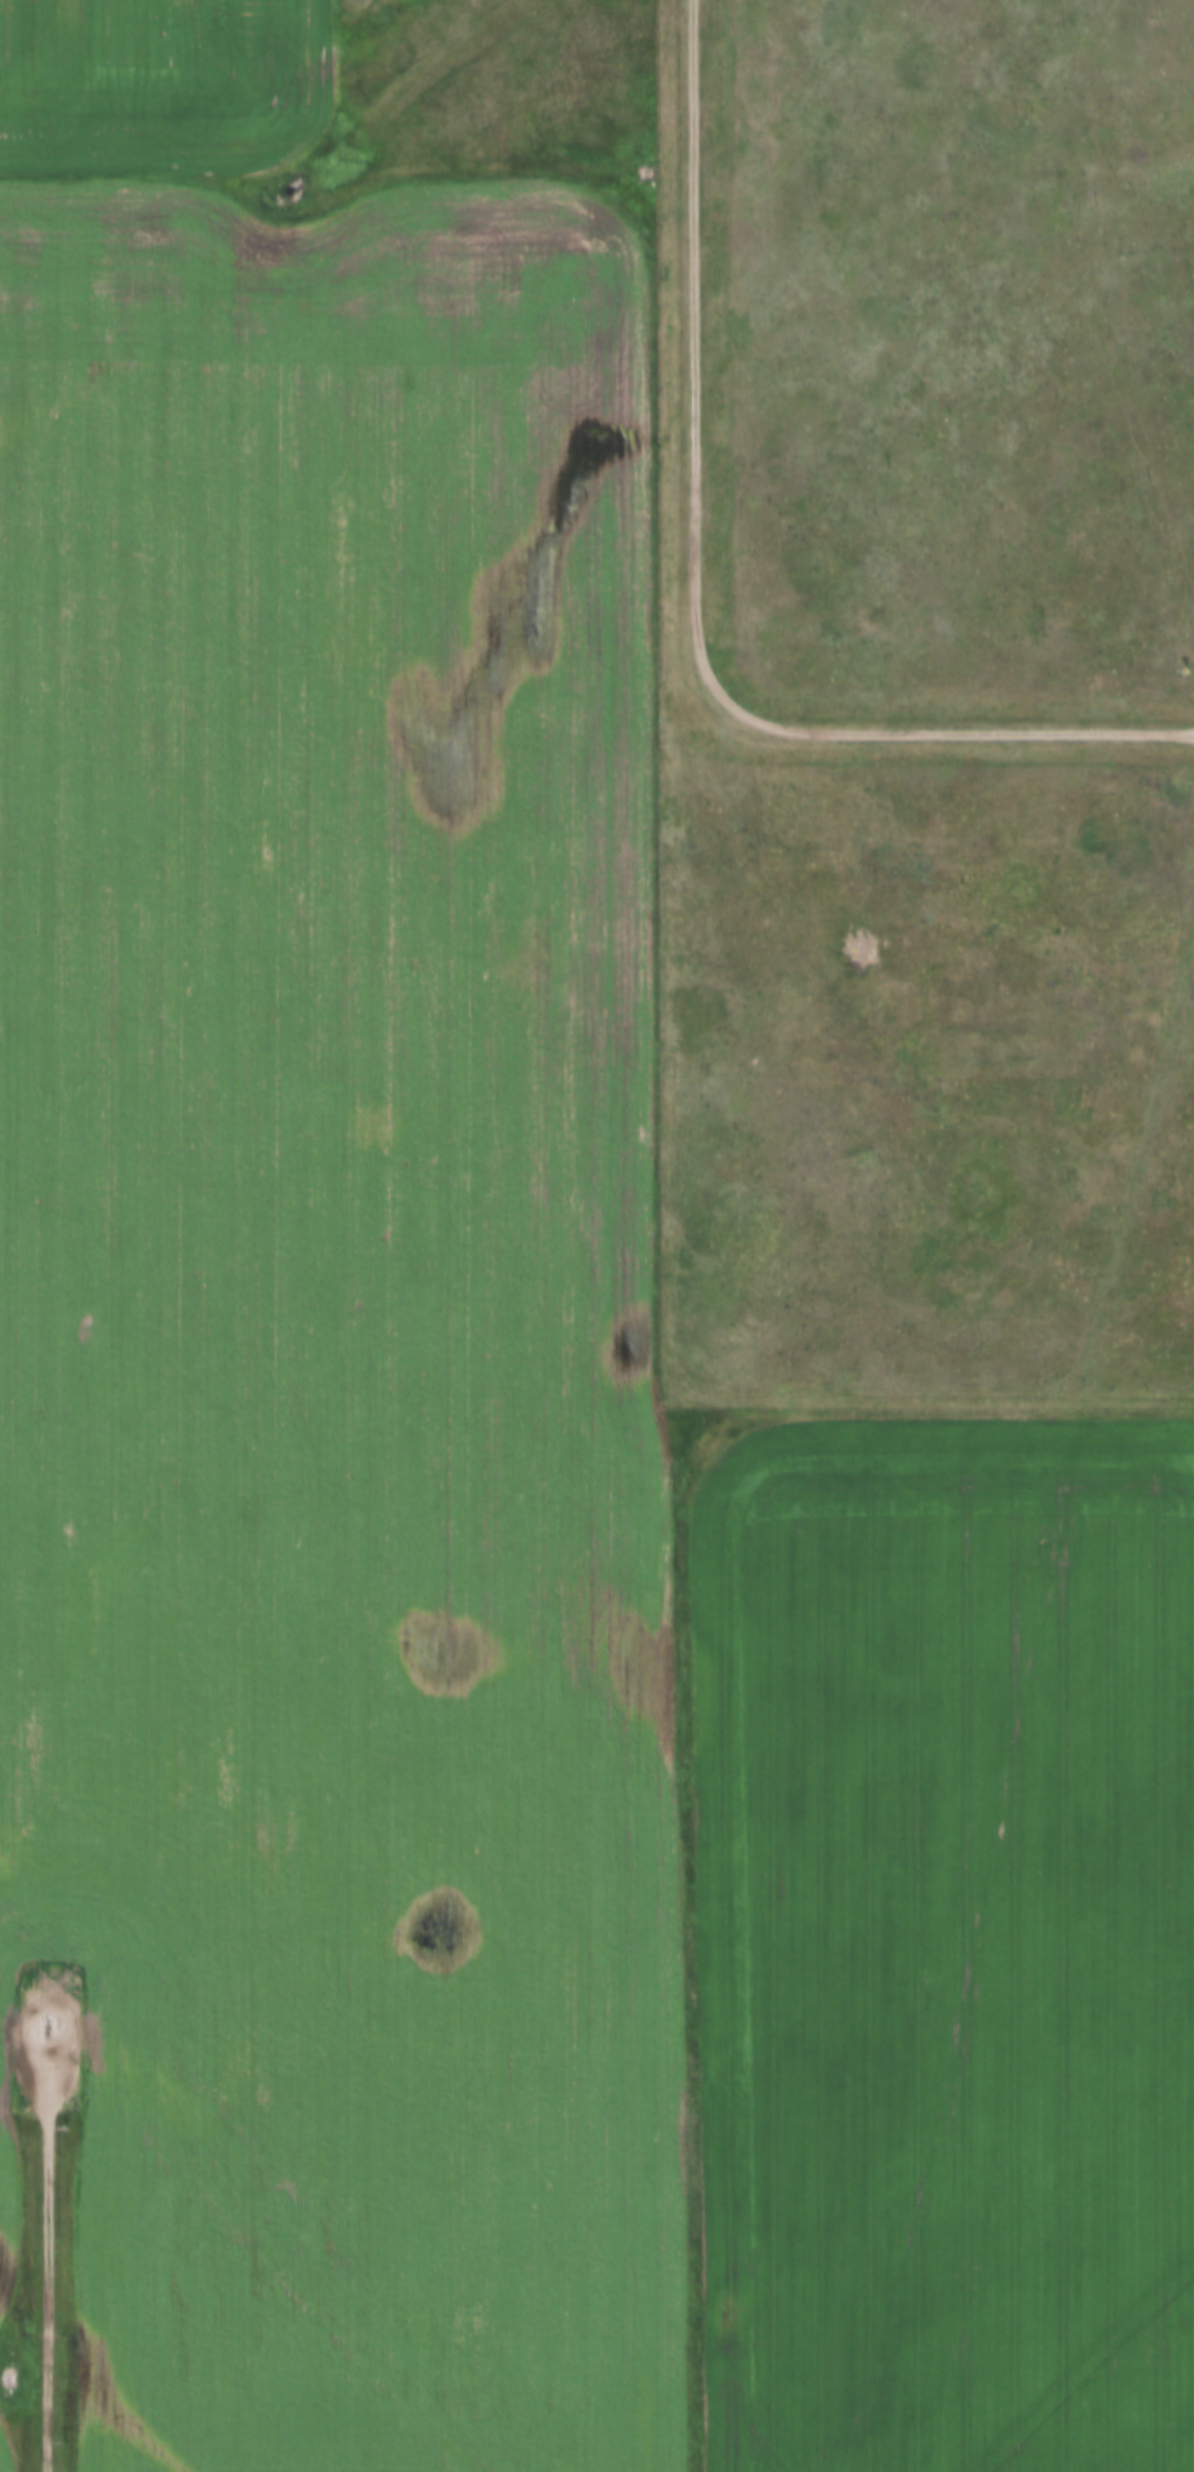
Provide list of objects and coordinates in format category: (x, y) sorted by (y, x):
road: (698, 588)
road: (48, 2268)

